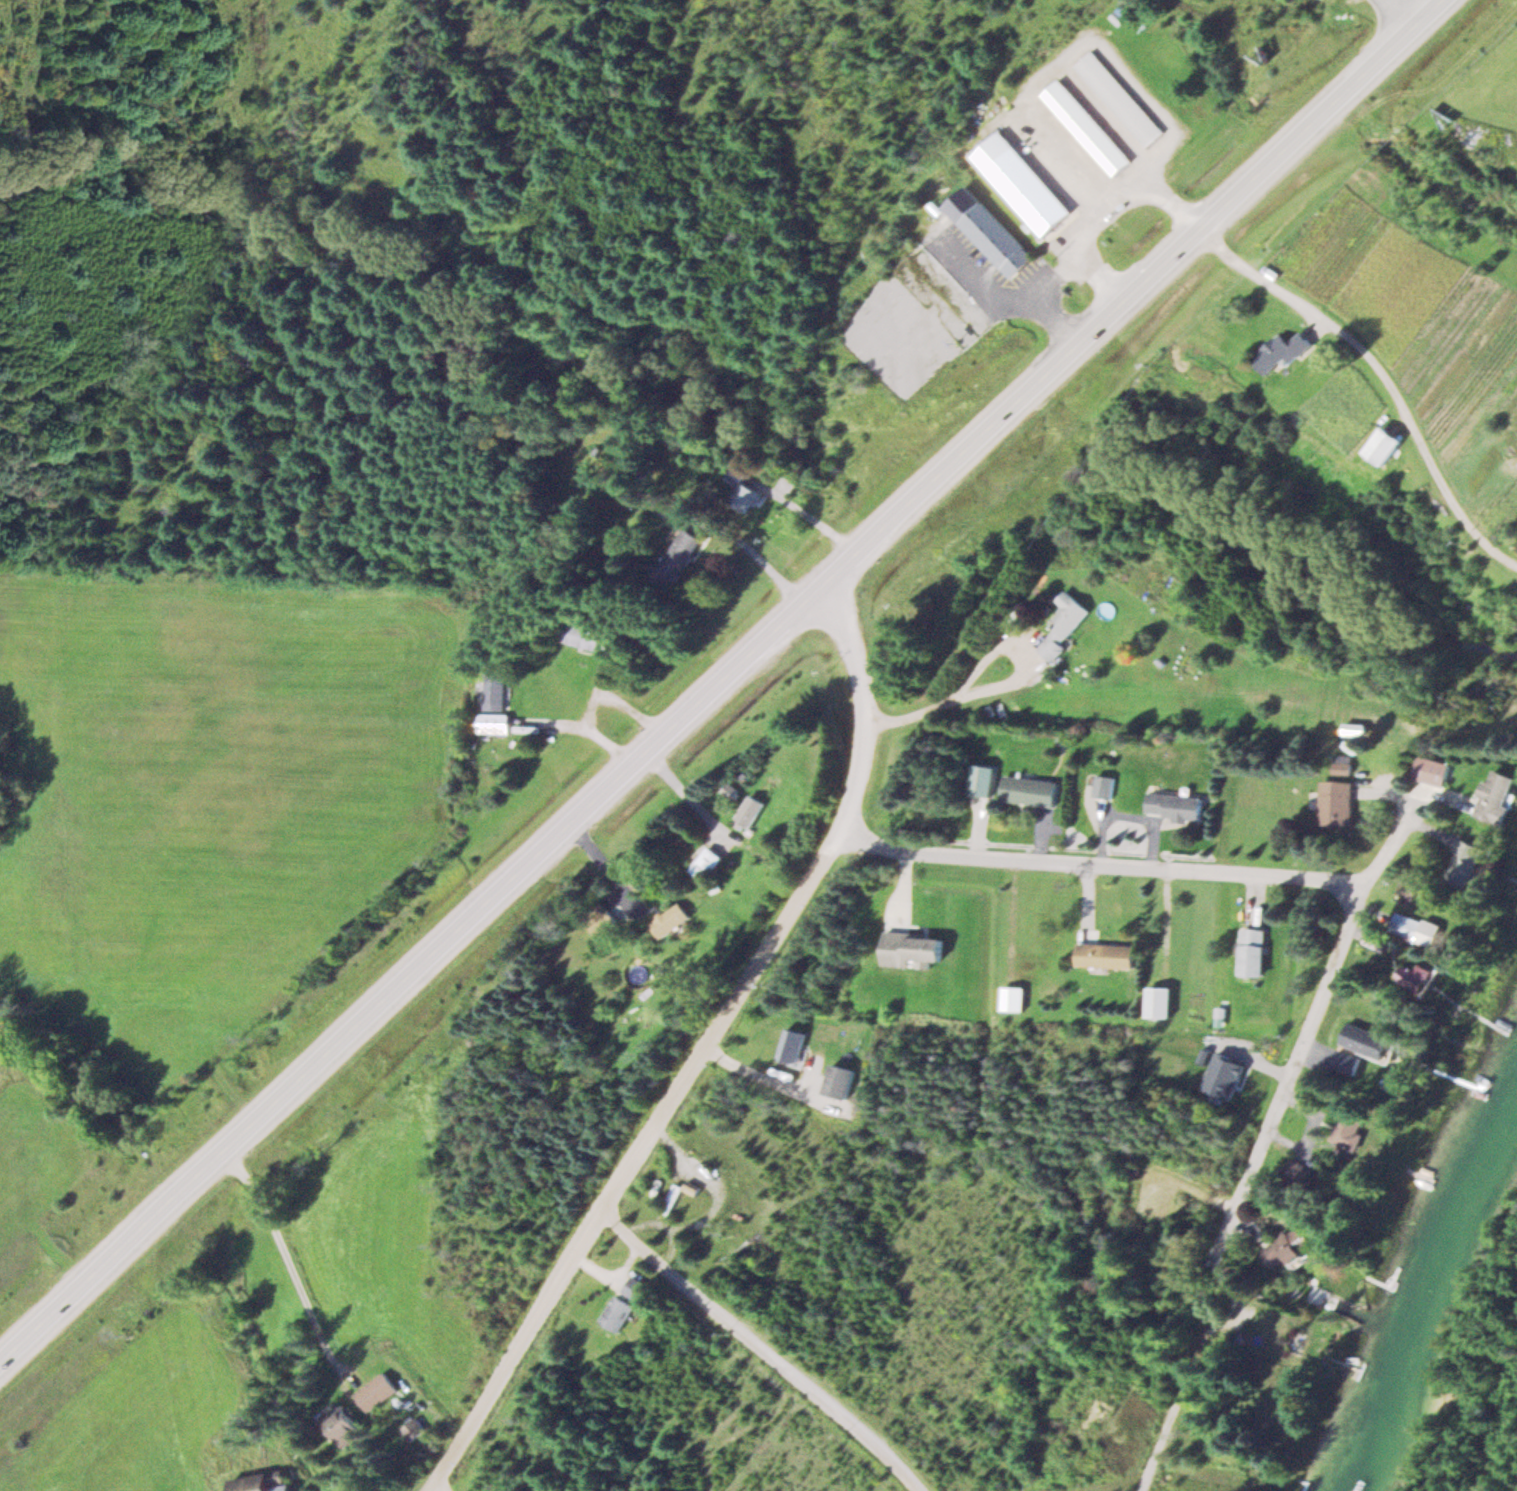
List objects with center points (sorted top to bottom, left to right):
building: (1119, 97)
building: (1088, 127)
building: (1025, 184)
building: (990, 230)
building: (1281, 351)
road: (1389, 354)
building: (1384, 444)
building: (744, 490)
building: (674, 558)
building: (1064, 623)
building: (579, 635)
road: (728, 679)
building: (494, 690)
road: (864, 708)
building: (494, 722)
building: (1357, 727)
building: (1433, 770)
building: (980, 779)
building: (1102, 783)
building: (1028, 789)
building: (1499, 797)
building: (1336, 802)
building: (1173, 805)
building: (750, 809)
building: (707, 861)
road: (1100, 863)
building: (1465, 863)
building: (672, 919)
building: (608, 921)
building: (1416, 926)
building: (1376, 938)
building: (910, 948)
building: (1252, 951)
building: (1104, 954)
building: (1416, 975)
building: (1011, 996)
building: (1158, 1000)
road: (1302, 1029)
building: (1368, 1040)
building: (791, 1044)
building: (1346, 1061)
building: (840, 1080)
building: (1349, 1127)
road: (629, 1161)
building: (673, 1197)
building: (1290, 1245)
road: (287, 1251)
river: (1431, 1301)
building: (624, 1304)
road: (762, 1347)
building: (377, 1390)
road: (1175, 1392)
building: (342, 1420)
building: (415, 1428)
building: (265, 1481)
road: (433, 1486)

